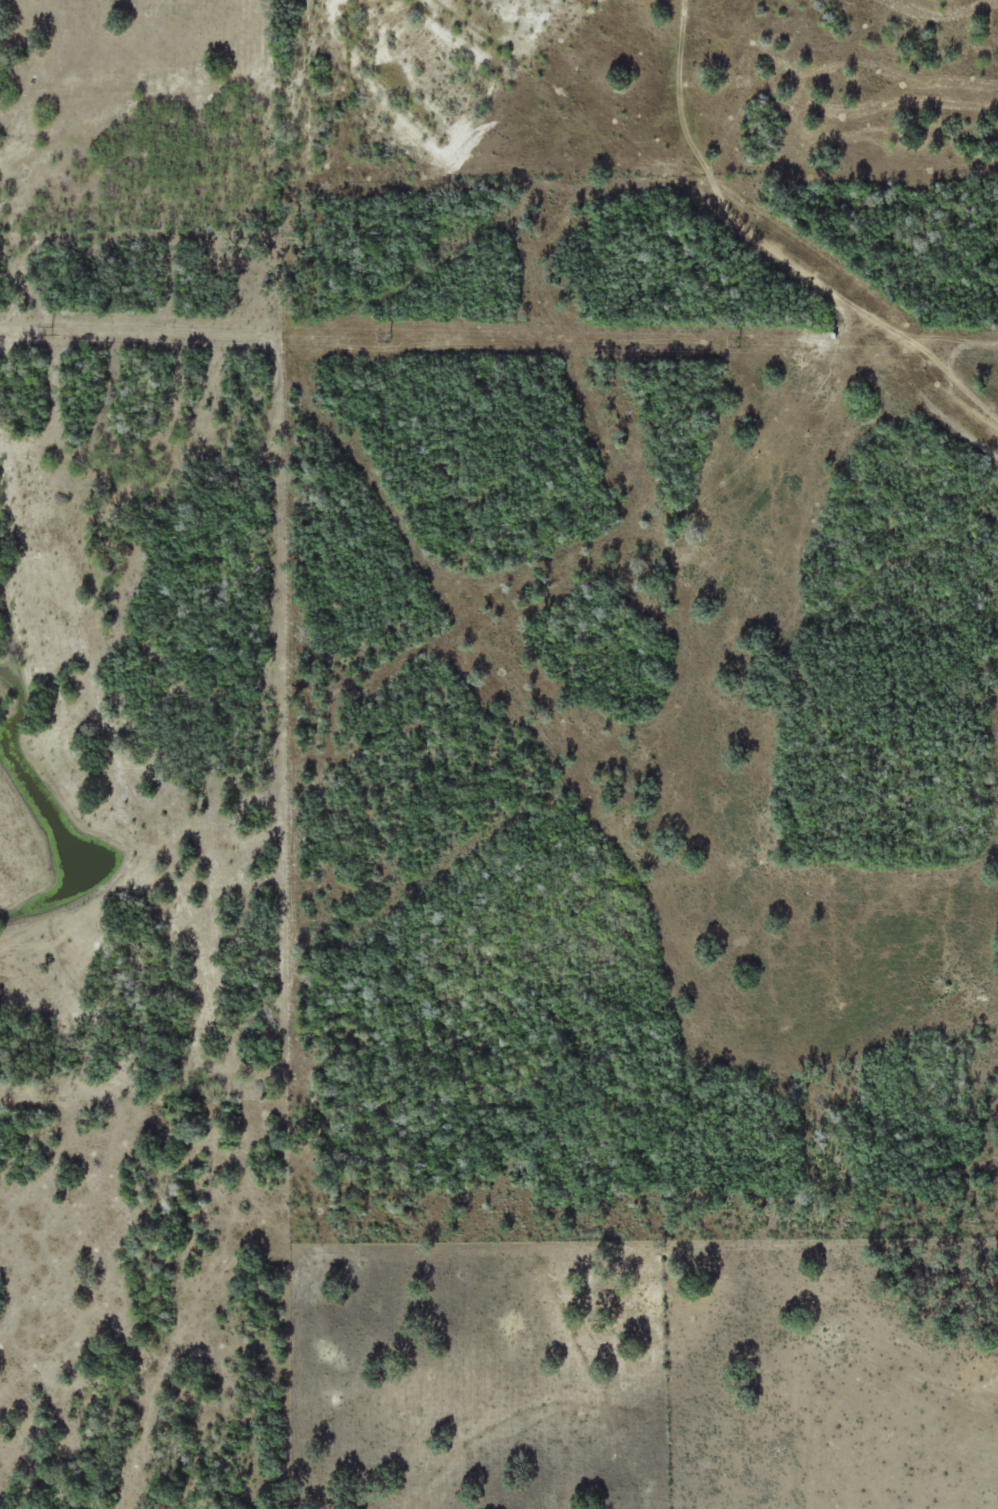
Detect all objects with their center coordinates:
power tower: (52, 323)
power tower: (392, 331)
power tower: (739, 339)

